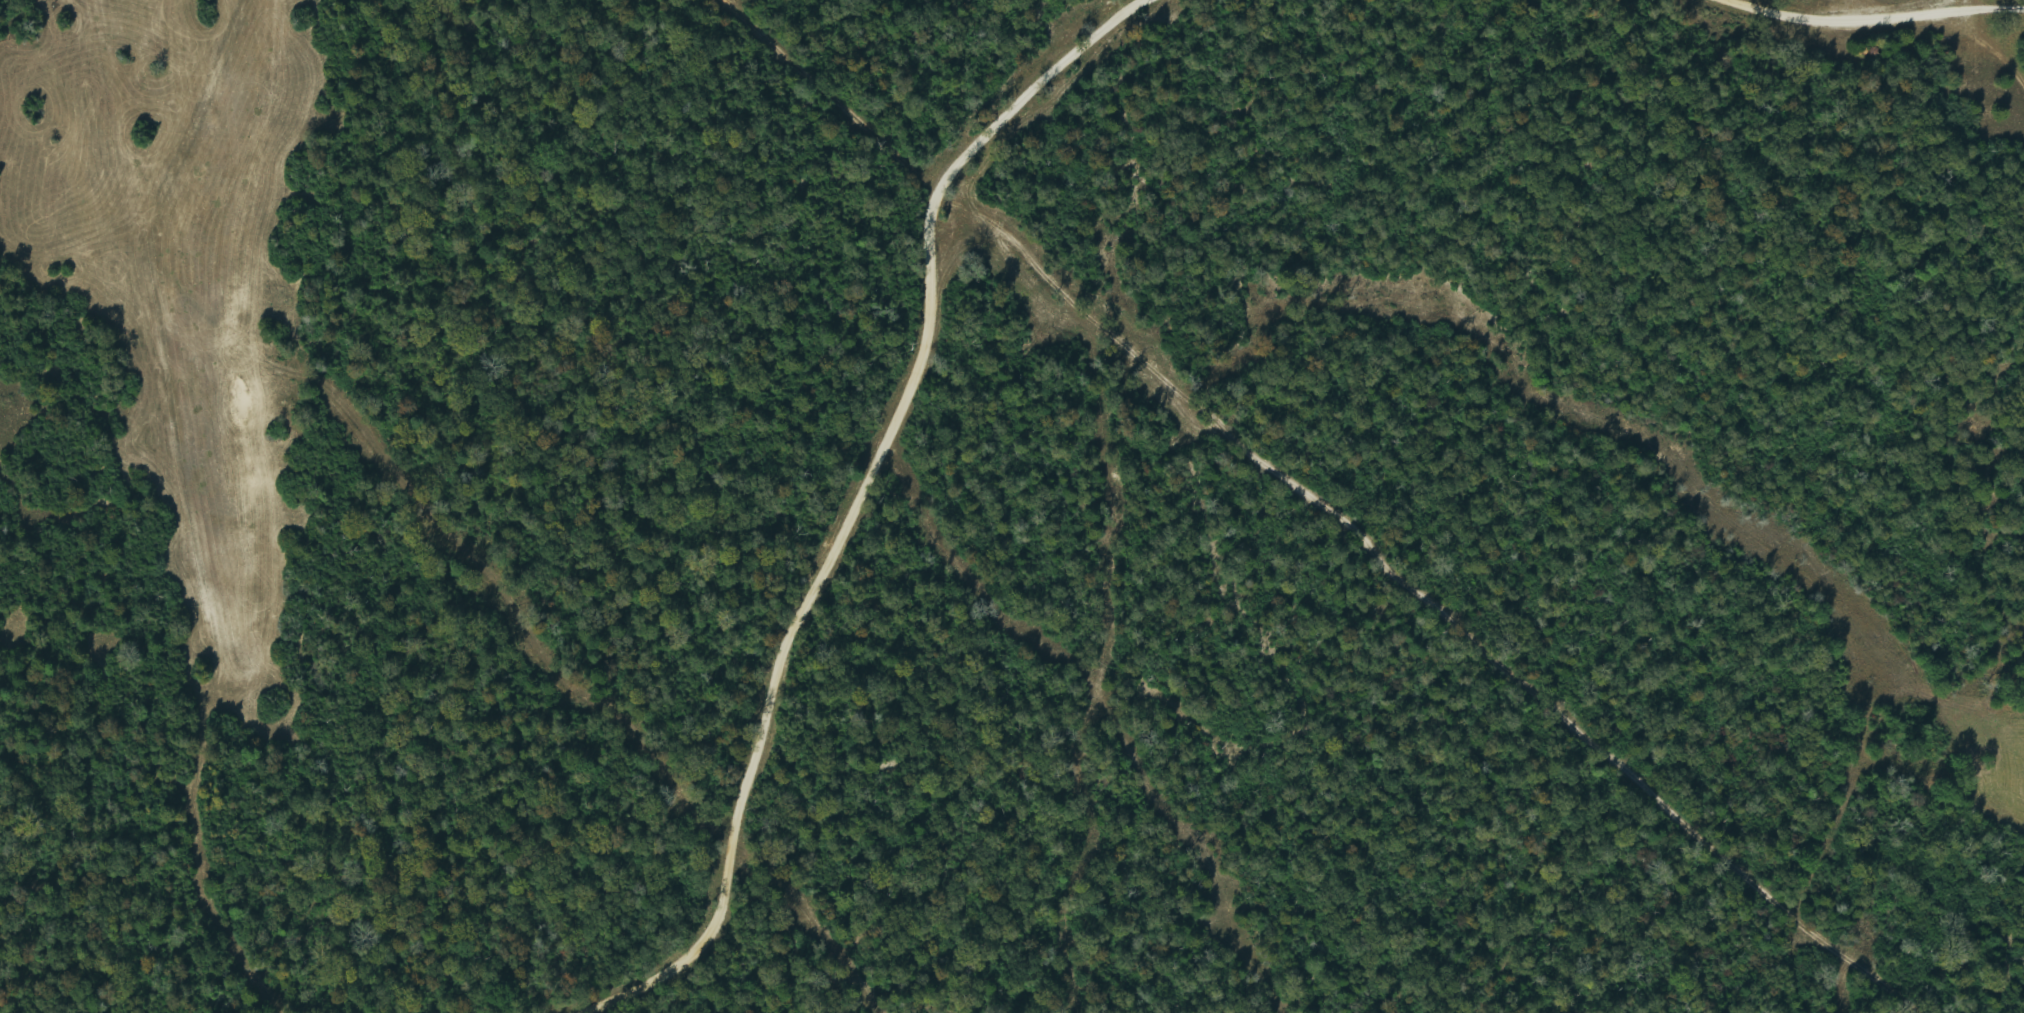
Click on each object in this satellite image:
road: (1834, 28)
road: (845, 507)
road: (1091, 709)

